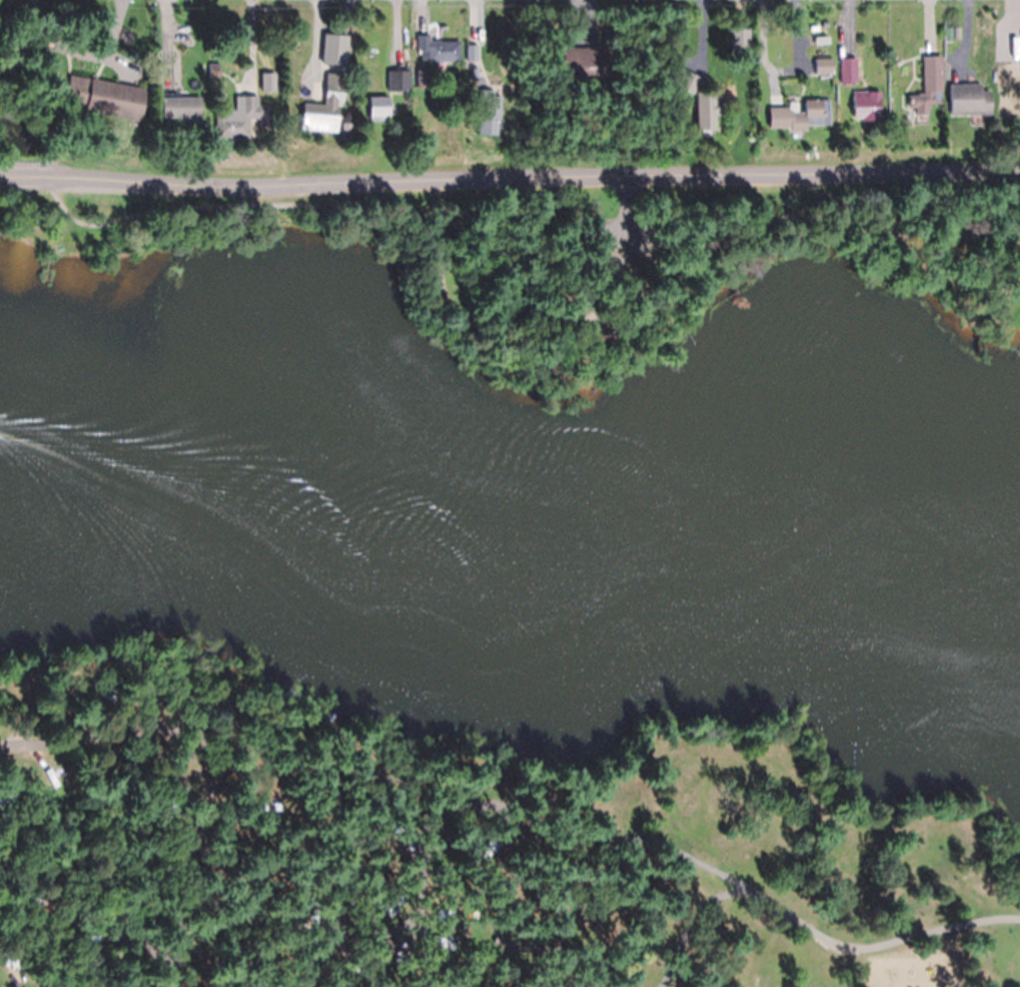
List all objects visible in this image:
building: (815, 31)
building: (118, 37)
building: (821, 40)
building: (35, 43)
building: (741, 44)
building: (438, 49)
building: (335, 51)
building: (472, 52)
building: (585, 62)
building: (823, 65)
building: (214, 69)
building: (849, 69)
building: (45, 73)
building: (418, 77)
building: (401, 79)
building: (685, 80)
building: (928, 85)
building: (78, 89)
building: (1009, 91)
building: (968, 99)
building: (757, 101)
building: (866, 104)
building: (181, 106)
building: (325, 106)
building: (378, 107)
building: (262, 108)
building: (706, 109)
building: (488, 111)
building: (811, 114)
building: (237, 117)
road: (22, 176)
road: (532, 180)
road: (629, 220)
parking lot: (619, 237)
road: (499, 336)
river: (518, 467)
park: (511, 571)
road: (206, 763)
road: (258, 775)
road: (374, 778)
road: (459, 806)
road: (660, 846)
building: (175, 852)
road: (109, 900)
road: (811, 932)
building: (498, 940)
building: (13, 969)

